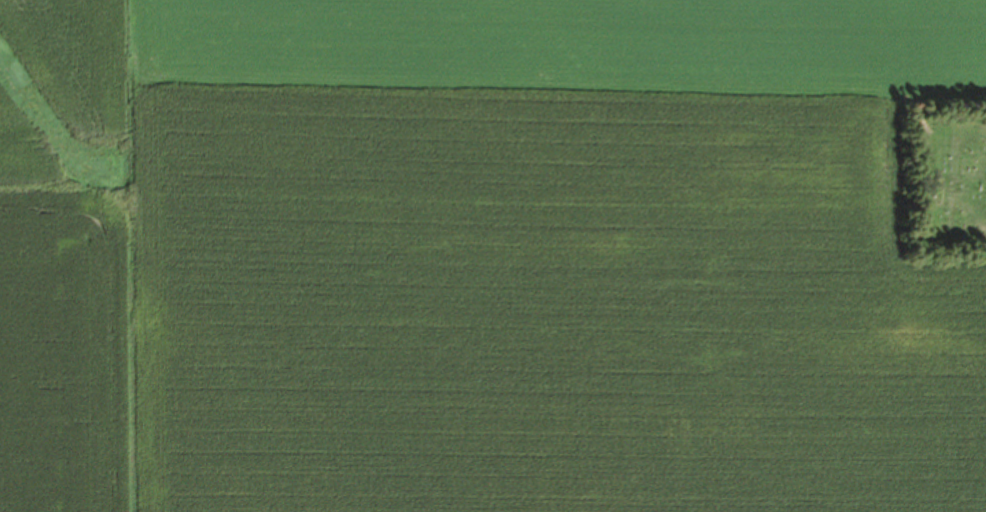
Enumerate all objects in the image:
park: (942, 179)

